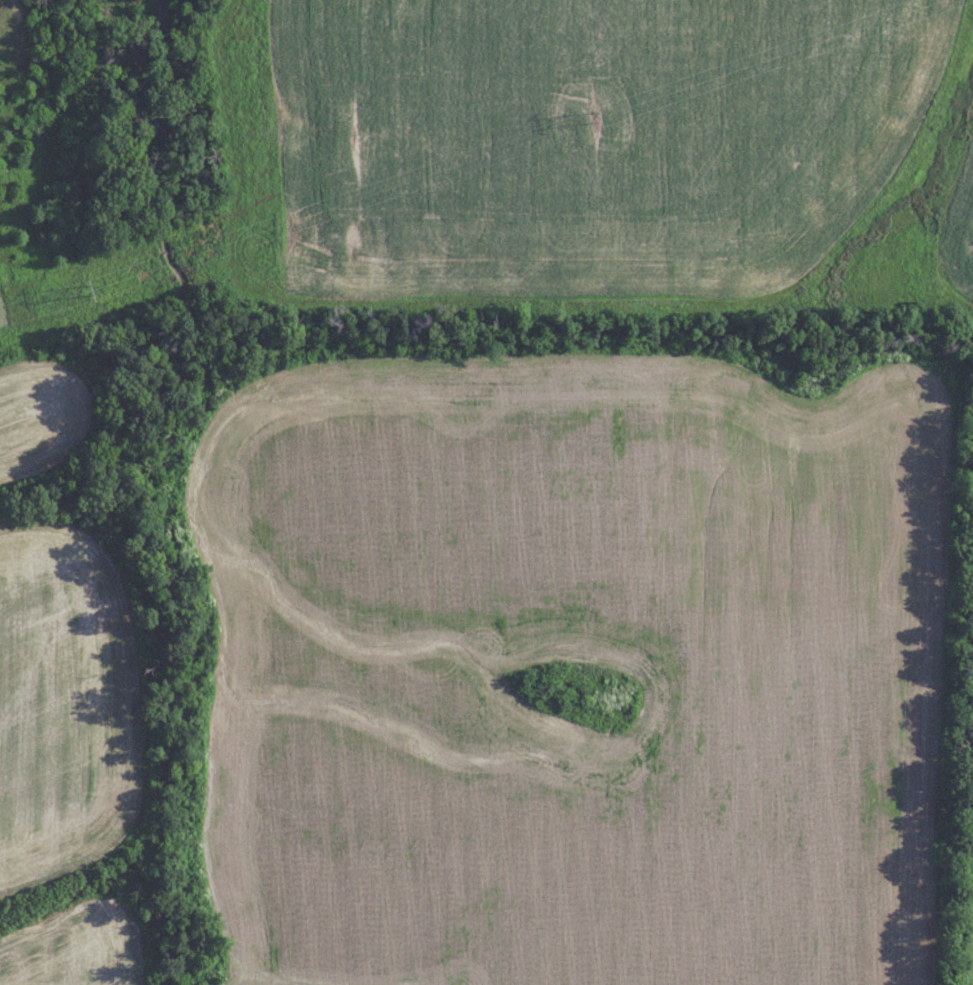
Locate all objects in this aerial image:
power tower: (598, 120)
power tower: (98, 288)

